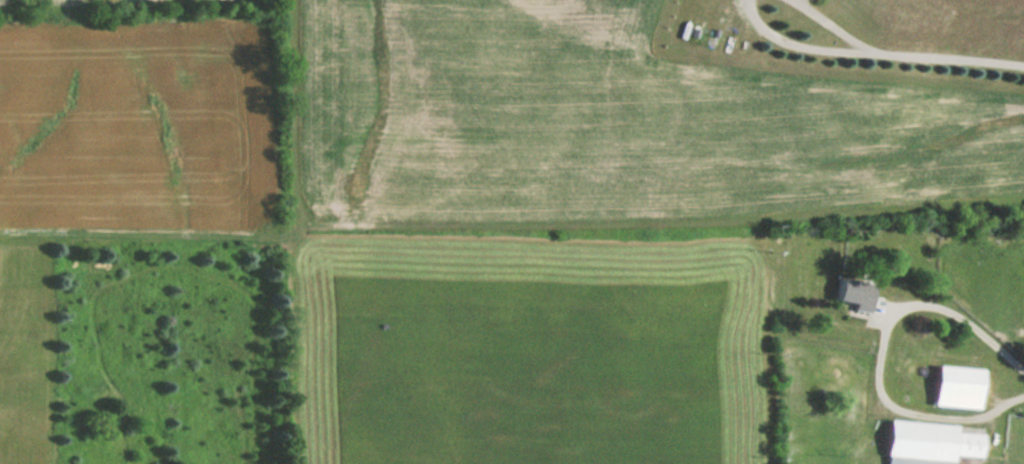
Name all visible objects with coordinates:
road: (831, 26)
road: (798, 46)
road: (946, 59)
building: (854, 295)
road: (881, 355)
building: (957, 386)
building: (929, 443)

